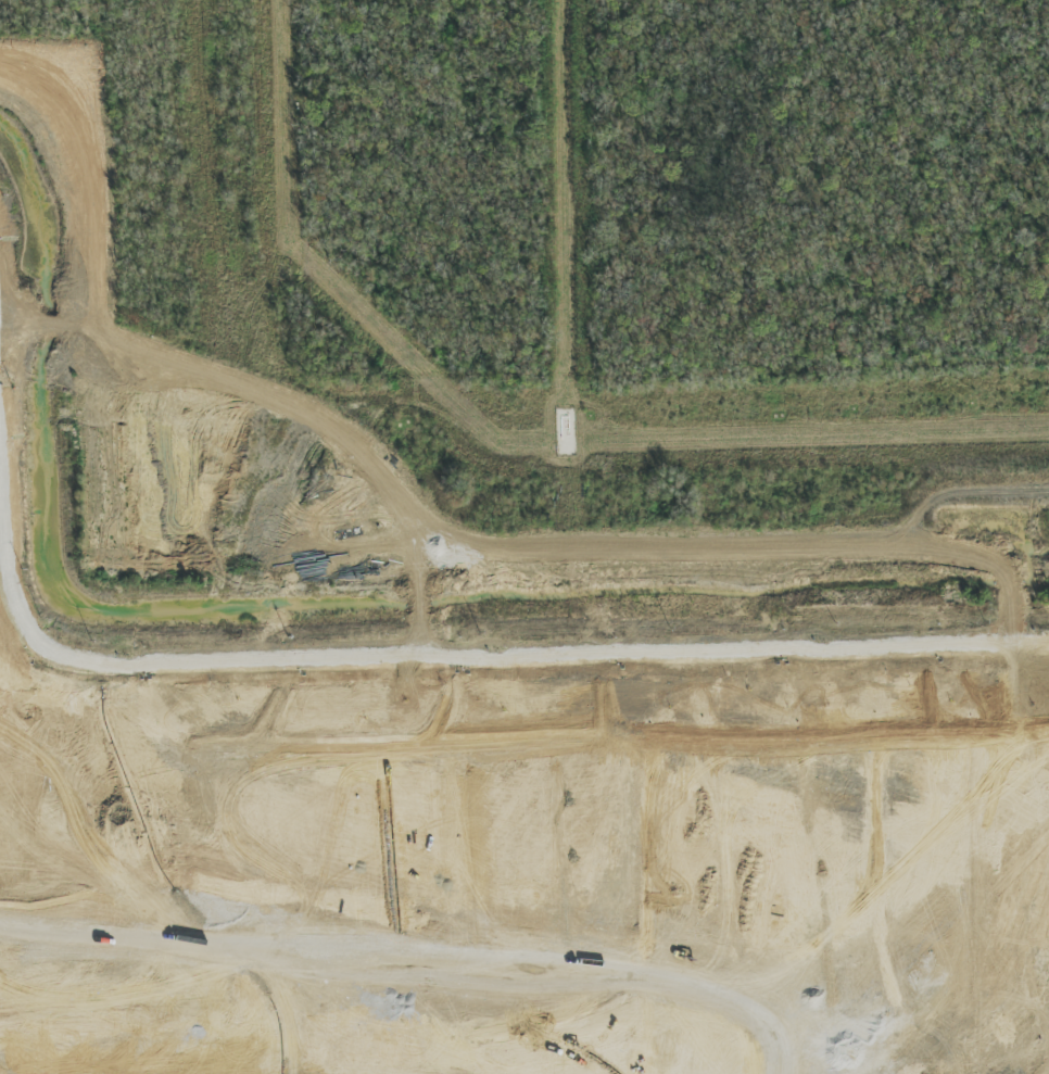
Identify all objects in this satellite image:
road: (902, 838)
landfill: (595, 956)

